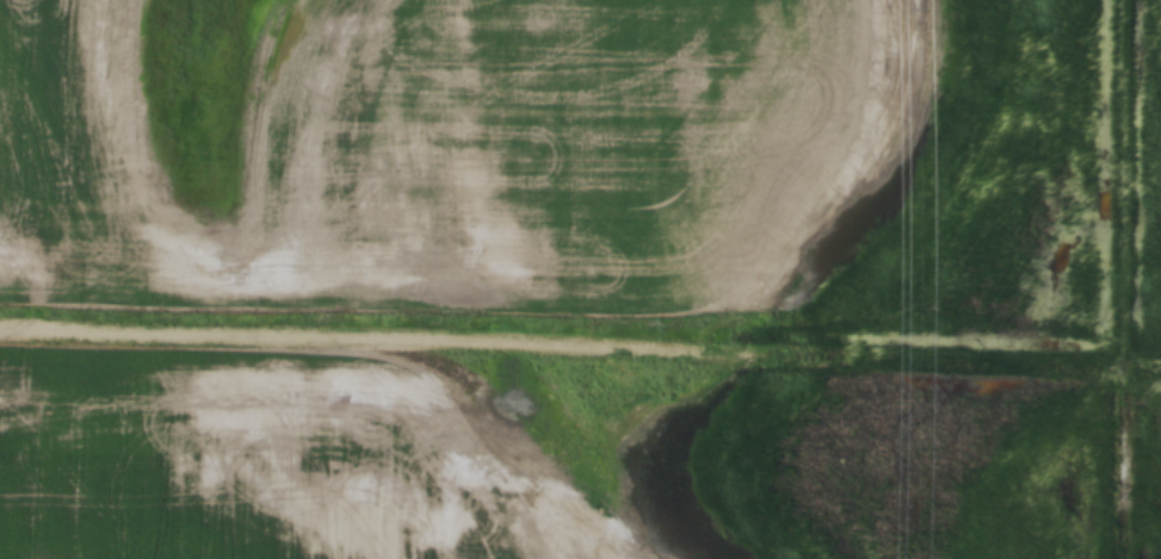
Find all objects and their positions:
road: (1122, 279)
road: (580, 340)

